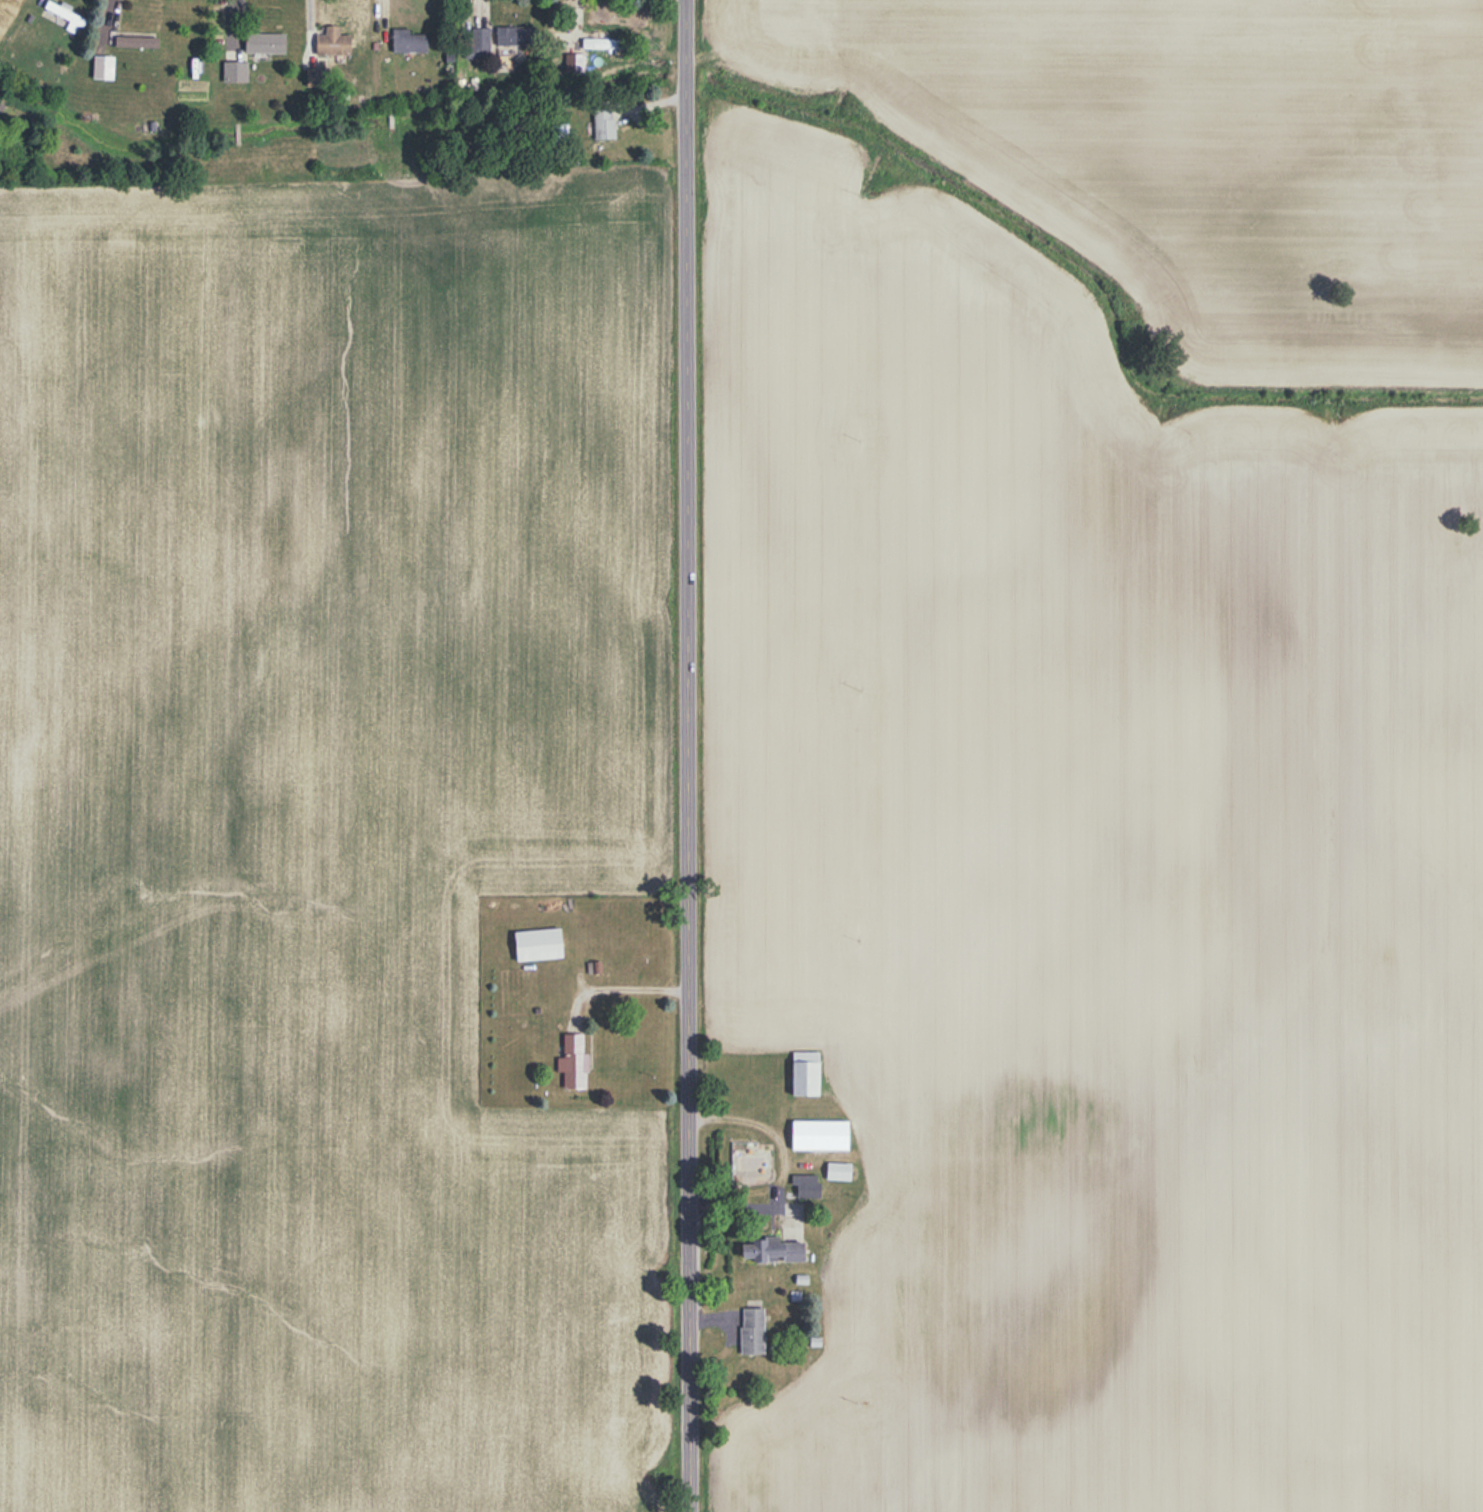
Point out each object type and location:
building: (63, 17)
building: (516, 36)
building: (137, 37)
building: (410, 42)
building: (266, 43)
building: (334, 44)
building: (475, 44)
building: (604, 44)
building: (576, 63)
building: (235, 72)
building: (317, 77)
building: (605, 123)
road: (681, 755)
building: (539, 944)
road: (622, 986)
building: (574, 1062)
building: (806, 1073)
building: (821, 1135)
road: (784, 1157)
building: (840, 1172)
building: (807, 1186)
building: (775, 1251)
building: (753, 1331)

